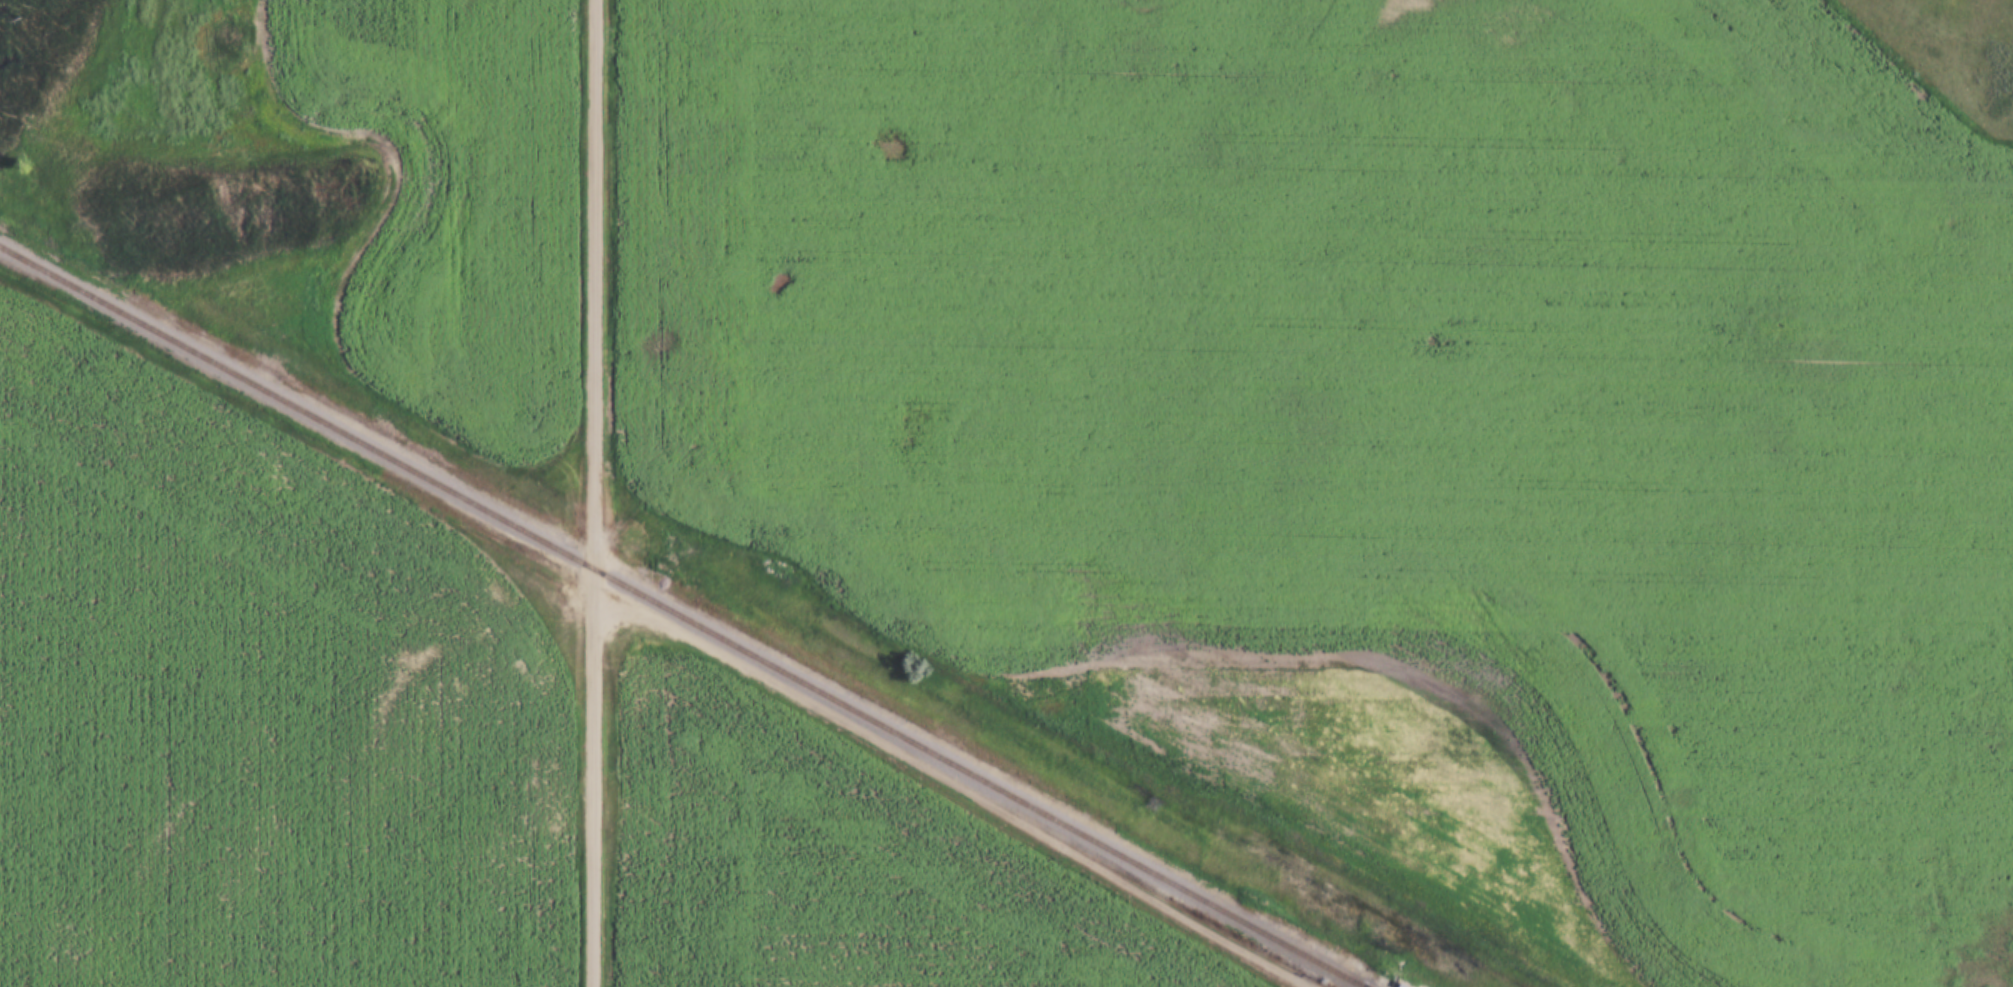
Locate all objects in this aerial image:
road: (593, 493)
railway: (681, 614)
road: (958, 787)

